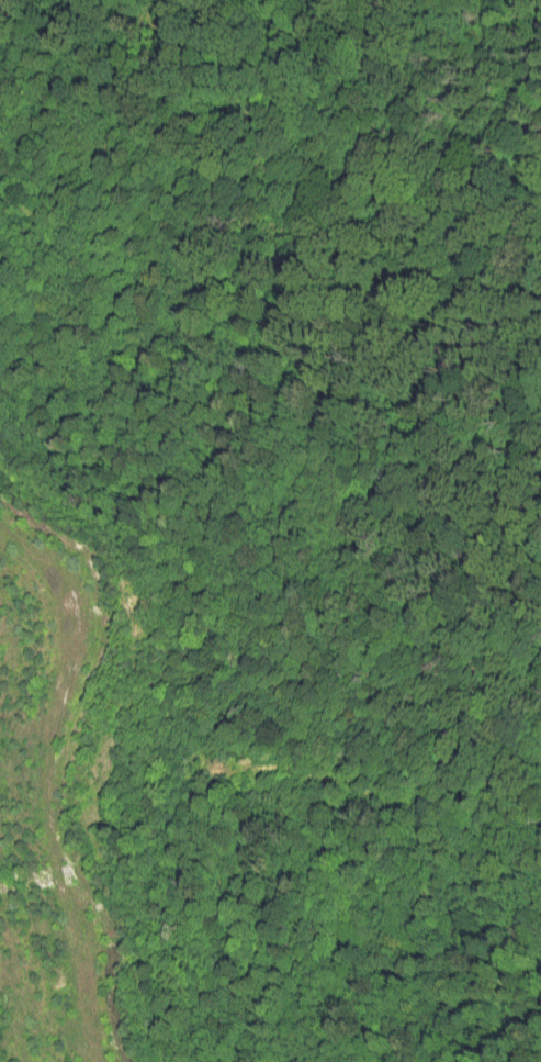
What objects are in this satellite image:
quarry: (56, 820)

